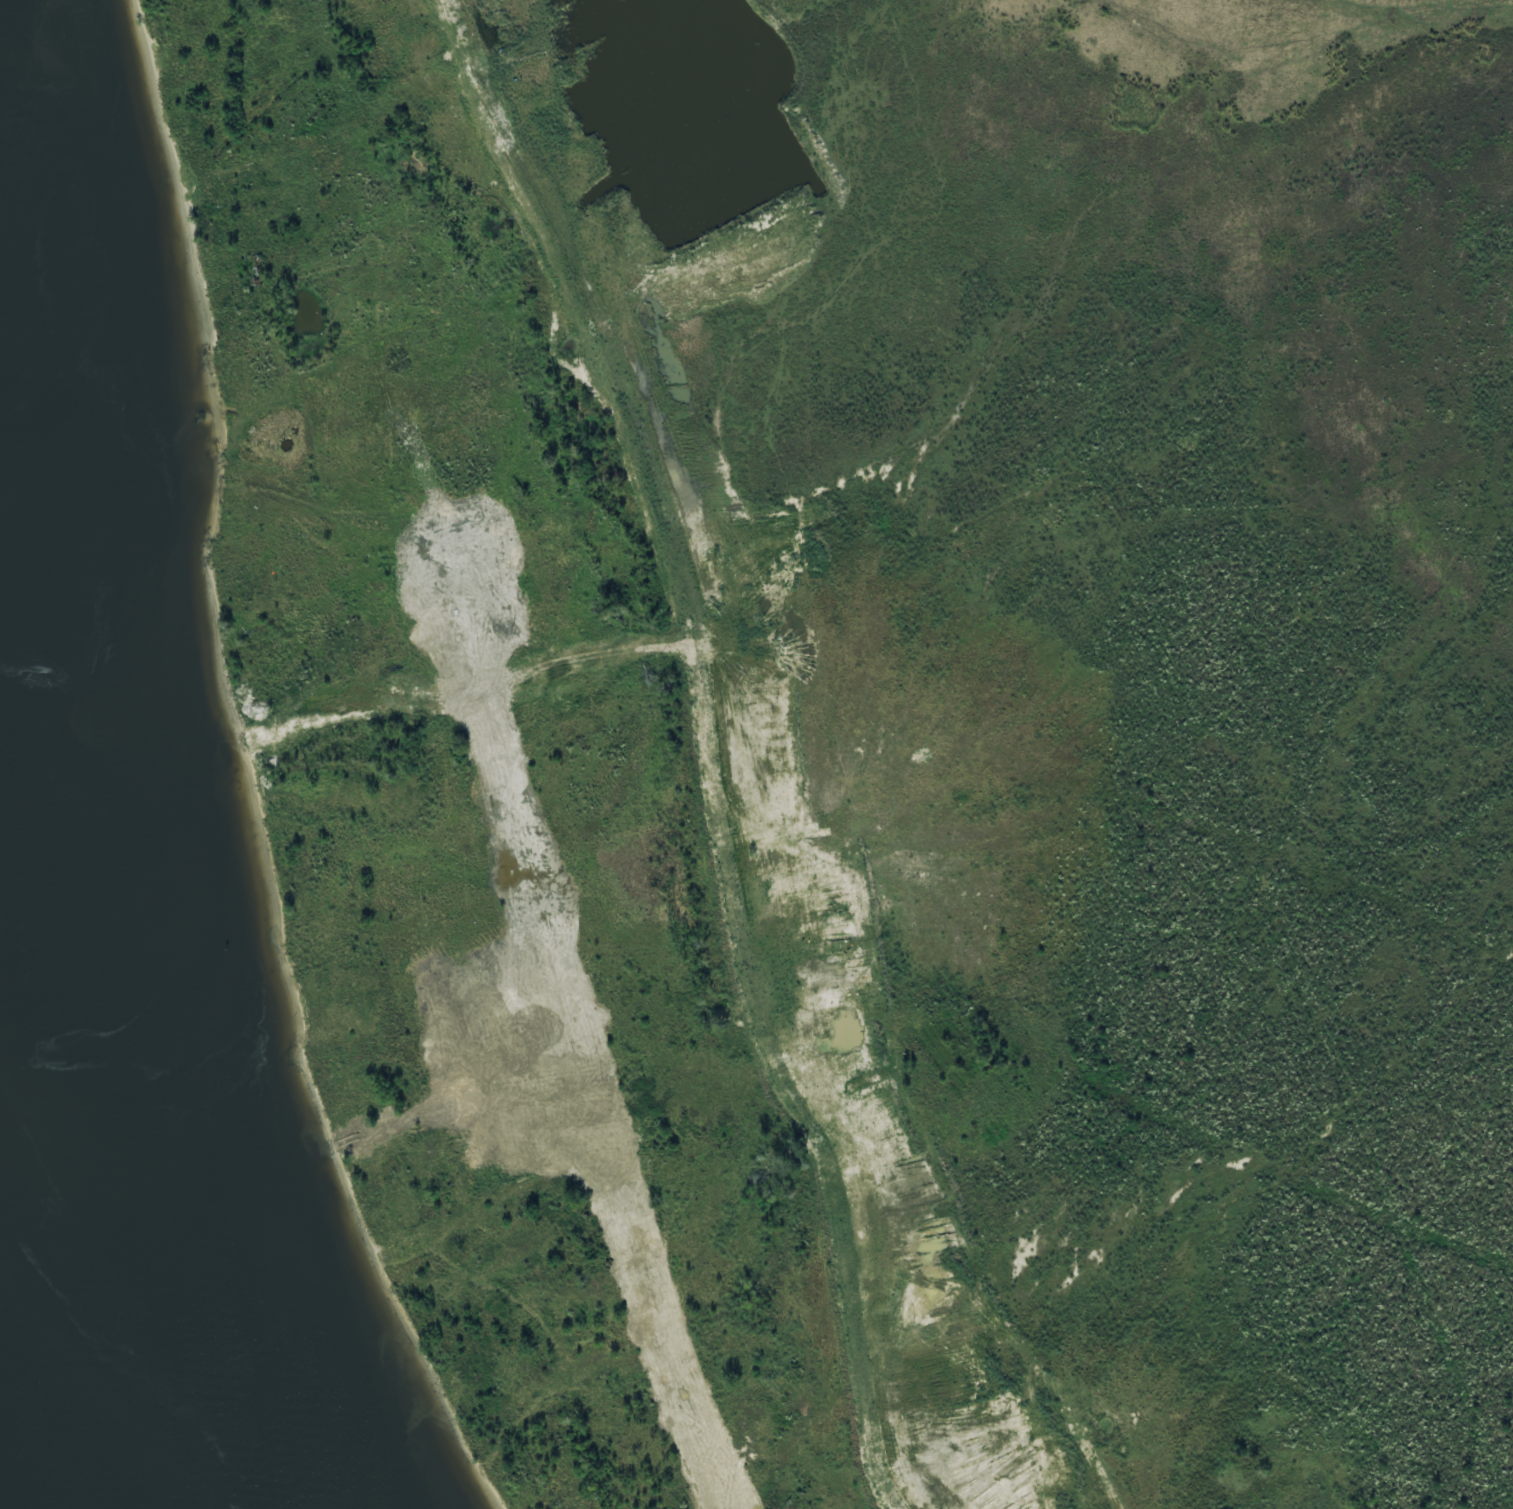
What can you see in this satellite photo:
river: (33, 1461)

